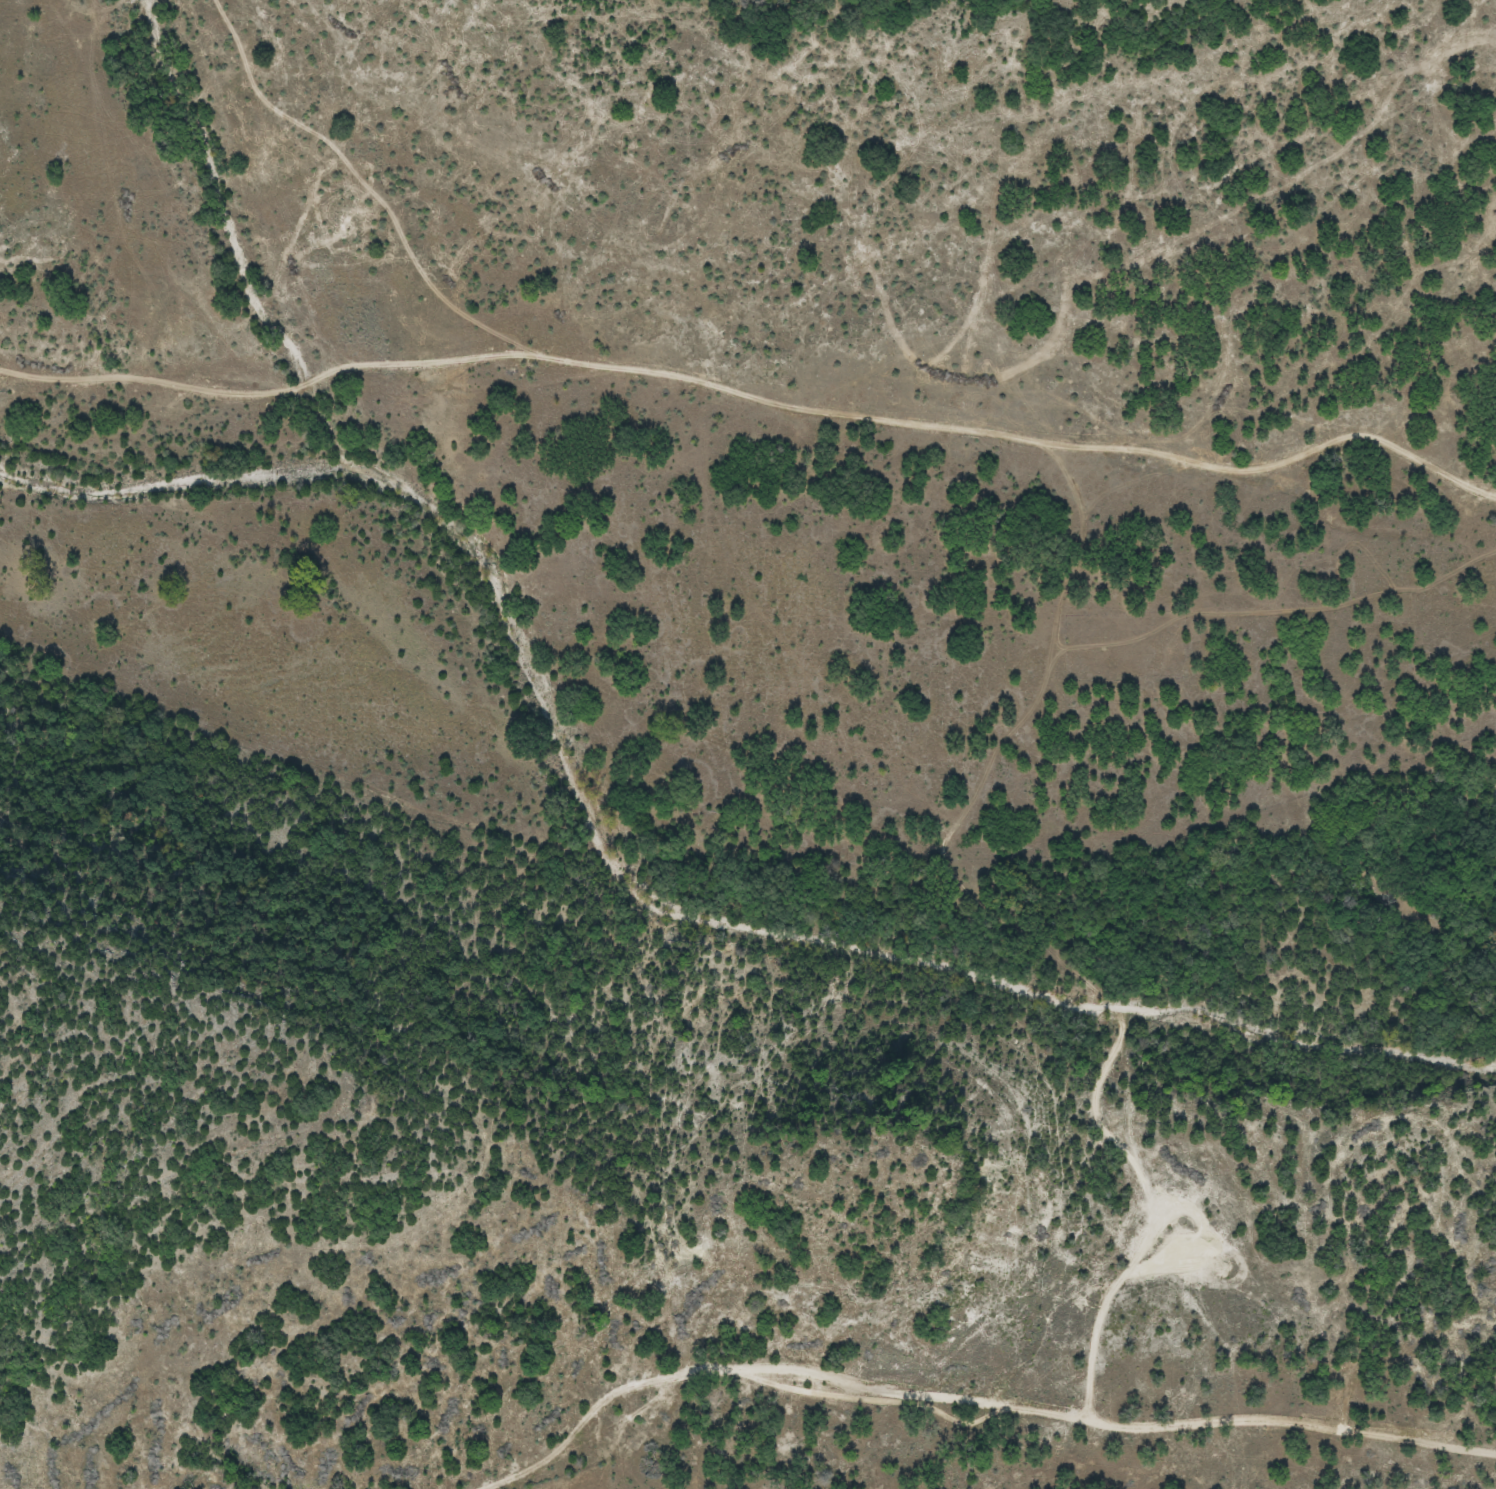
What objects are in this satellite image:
road: (794, 674)
road: (971, 1413)

